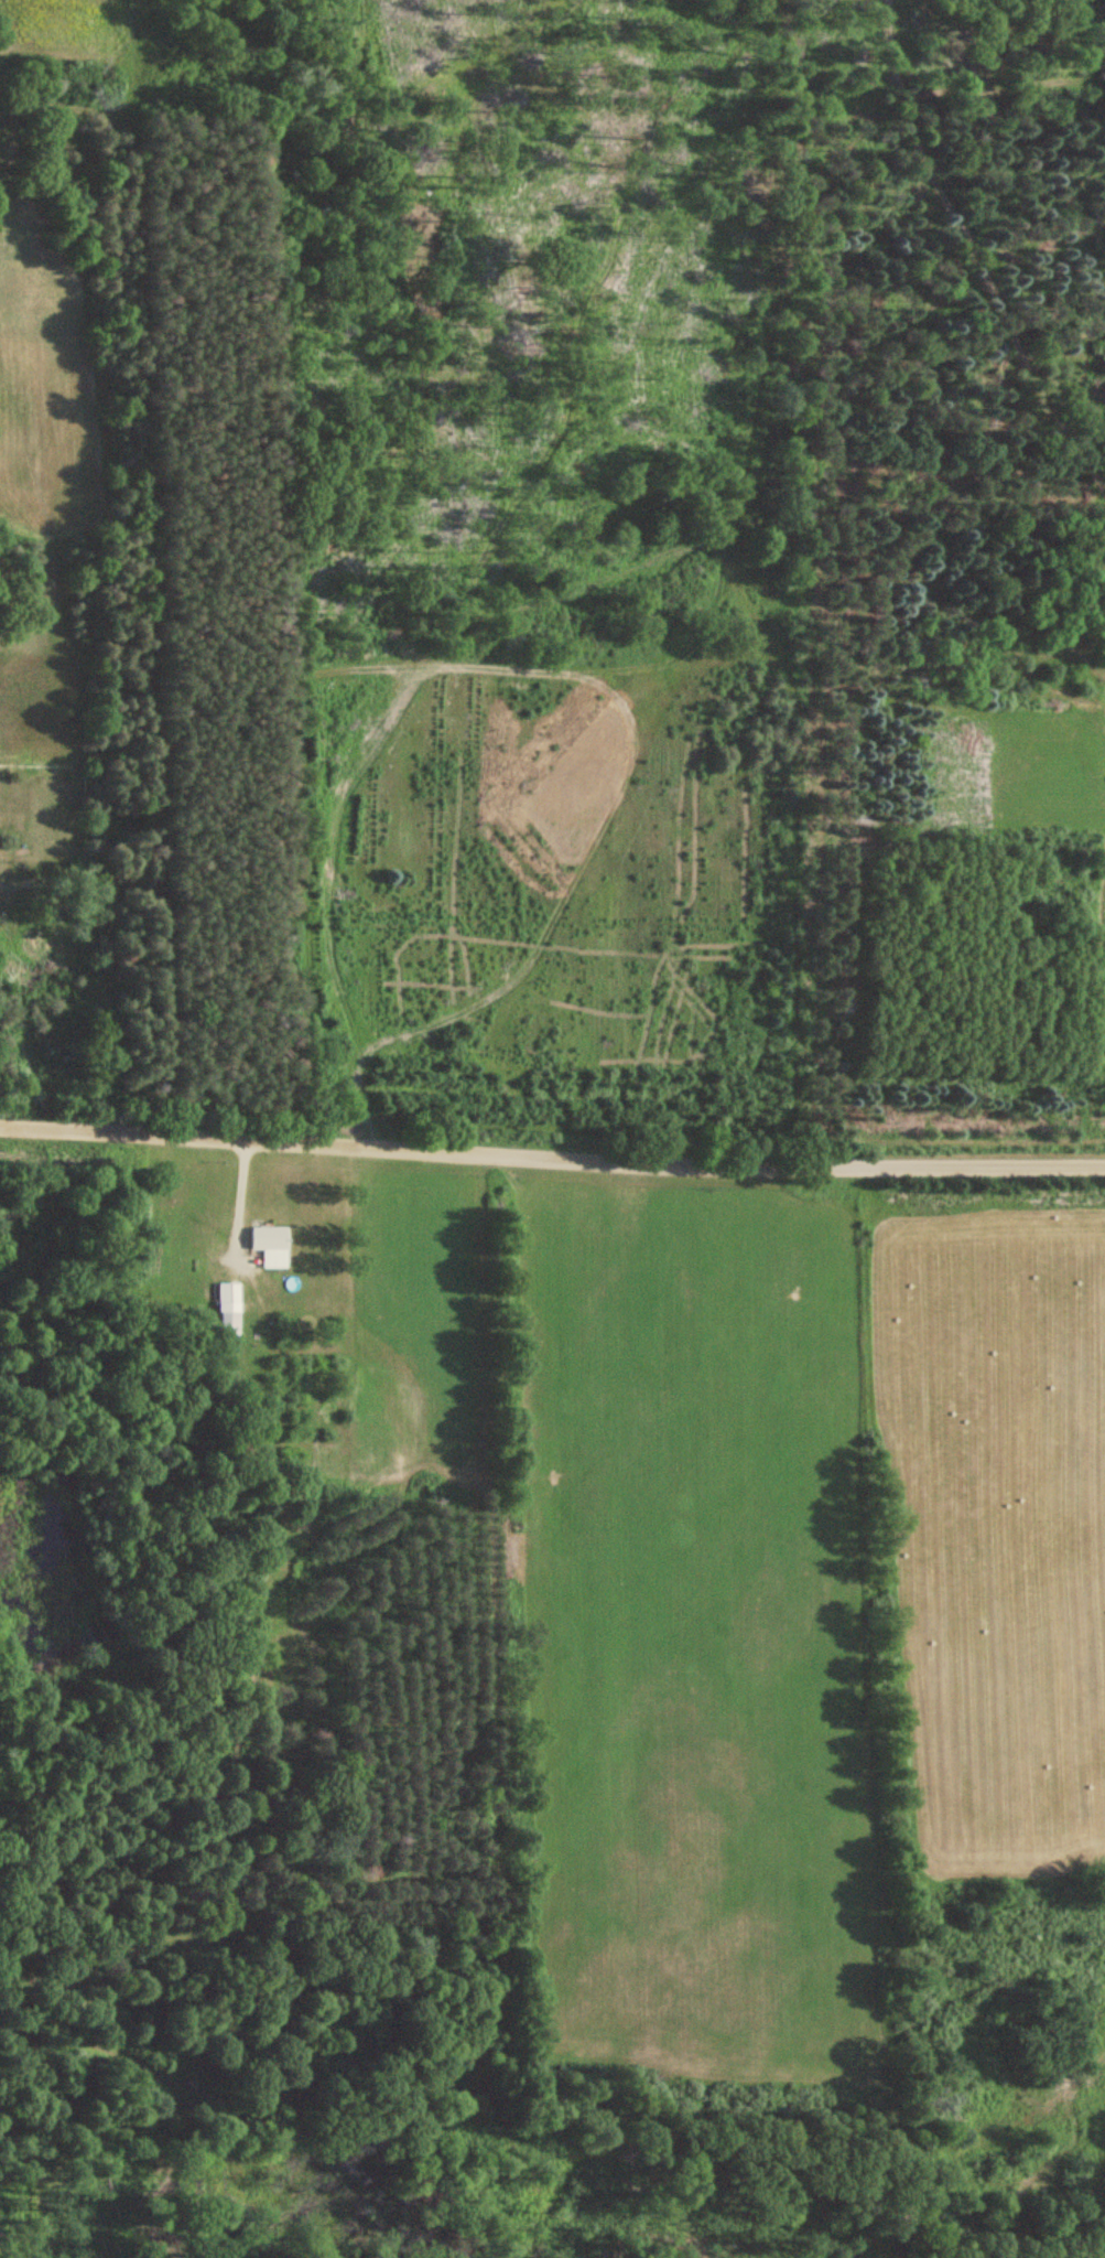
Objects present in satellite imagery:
building: (30, 851)
road: (552, 1160)
road: (238, 1201)
building: (268, 1245)
building: (226, 1309)

